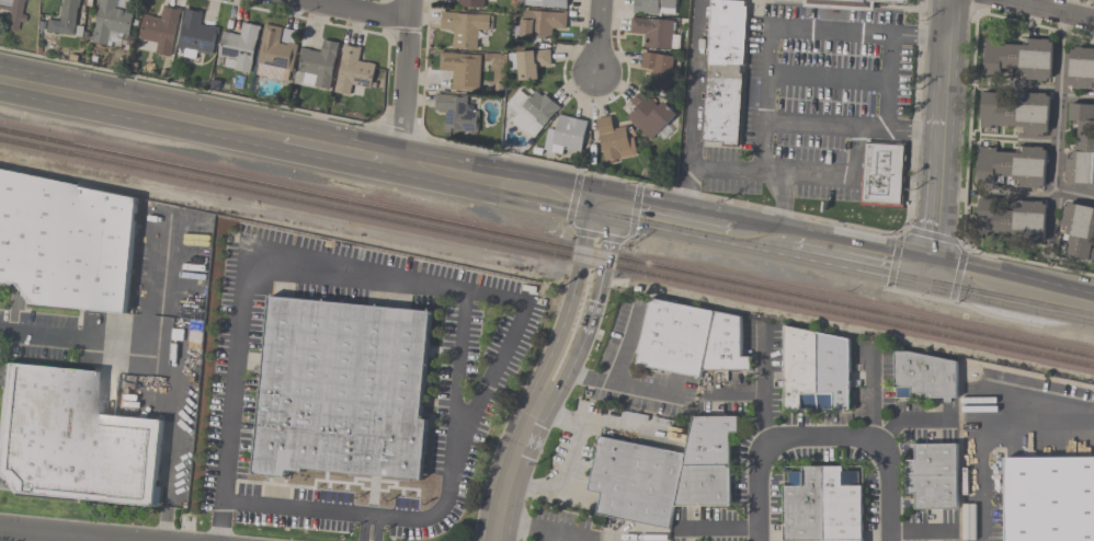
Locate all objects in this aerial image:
building: (474, 3)
building: (545, 3)
building: (847, 3)
building: (654, 8)
road: (358, 9)
road: (1051, 9)
building: (13, 13)
building: (65, 20)
building: (111, 22)
building: (540, 24)
road: (809, 25)
building: (464, 28)
building: (160, 30)
building: (654, 34)
building: (195, 36)
road: (597, 36)
building: (239, 47)
building: (276, 53)
road: (945, 56)
building: (1018, 59)
building: (528, 64)
building: (318, 66)
building: (1081, 68)
building: (659, 69)
road: (695, 69)
building: (463, 70)
building: (353, 71)
building: (723, 71)
road: (828, 79)
road: (889, 79)
road: (402, 81)
road: (1060, 101)
road: (140, 110)
building: (532, 112)
building: (1013, 113)
building: (456, 114)
building: (649, 114)
road: (898, 128)
road: (854, 133)
building: (566, 136)
building: (613, 140)
building: (1081, 146)
road: (340, 150)
building: (875, 151)
road: (501, 152)
building: (893, 153)
building: (1012, 166)
building: (882, 169)
road: (725, 170)
road: (688, 180)
road: (501, 184)
road: (966, 188)
building: (881, 189)
road: (937, 191)
road: (1013, 193)
road: (1073, 193)
road: (573, 198)
traffic signals: (605, 206)
road: (635, 210)
road: (642, 214)
building: (1011, 219)
road: (707, 227)
road: (568, 229)
building: (1079, 231)
road: (597, 235)
road: (933, 235)
road: (762, 238)
road: (627, 240)
building: (67, 242)
railway: (547, 243)
railway: (547, 253)
road: (859, 256)
road: (893, 260)
road: (592, 268)
traffic signals: (928, 269)
road: (957, 274)
road: (453, 287)
road: (1011, 287)
road: (969, 307)
building: (143, 336)
building: (691, 339)
road: (509, 343)
road: (143, 344)
building: (814, 371)
building: (925, 377)
road: (155, 378)
road: (619, 385)
road: (763, 385)
building: (342, 389)
road: (870, 395)
road: (589, 418)
road: (607, 422)
road: (524, 430)
road: (991, 437)
building: (72, 440)
road: (823, 442)
road: (172, 454)
road: (562, 456)
building: (663, 473)
building: (932, 477)
building: (1050, 497)
building: (822, 505)
road: (219, 520)
road: (531, 527)
road: (369, 529)
road: (719, 529)
road: (56, 536)
road: (584, 536)
road: (78, 539)

